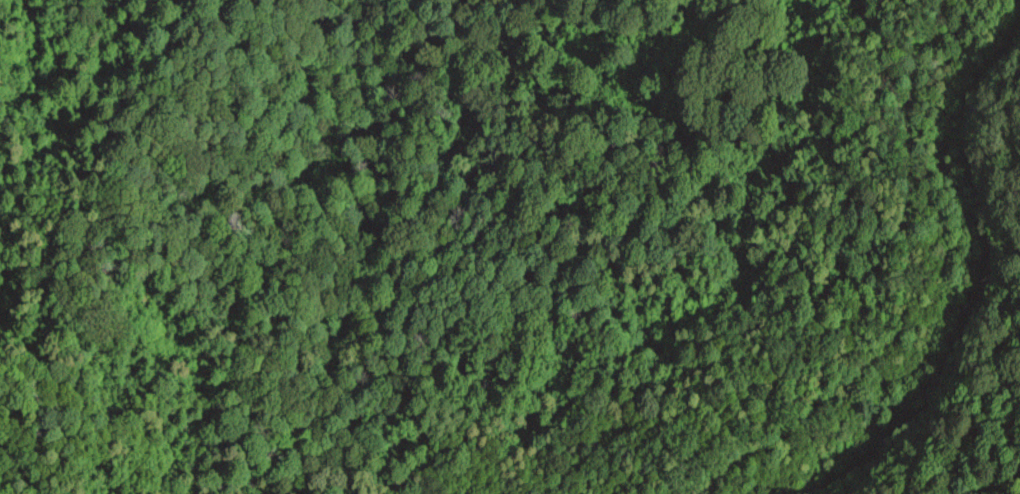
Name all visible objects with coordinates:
road: (903, 291)

